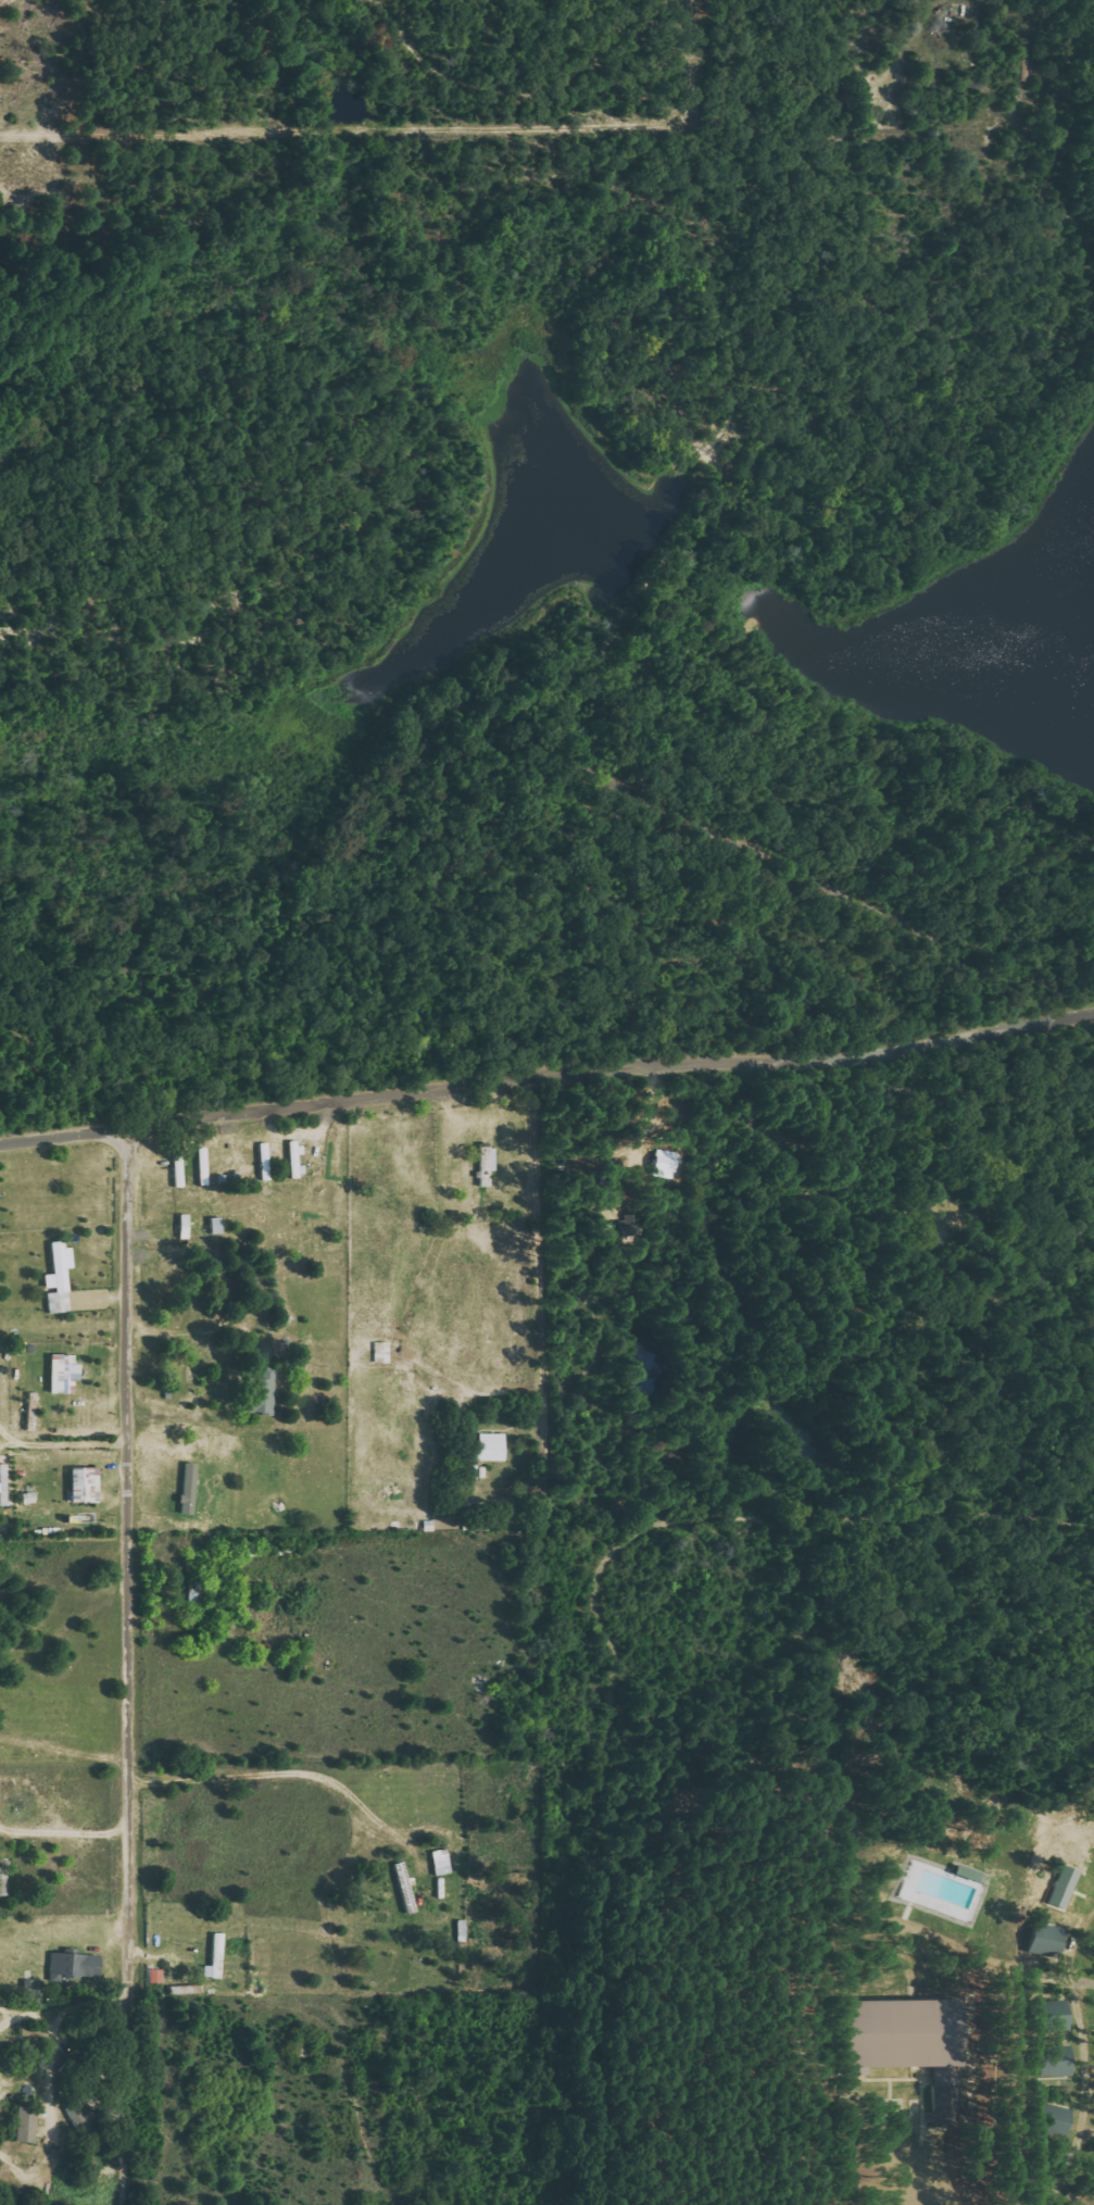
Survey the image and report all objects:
road: (546, 1077)
building: (666, 1164)
building: (59, 1278)
building: (63, 1373)
building: (262, 1391)
building: (492, 1446)
building: (85, 1483)
building: (188, 1488)
road: (127, 1554)
building: (441, 1862)
building: (1064, 1887)
building: (1046, 1940)
building: (215, 1958)
building: (74, 1967)
building: (156, 1976)
building: (1051, 2016)
building: (913, 2039)
building: (1055, 2062)
building: (1053, 2119)
building: (26, 2125)

